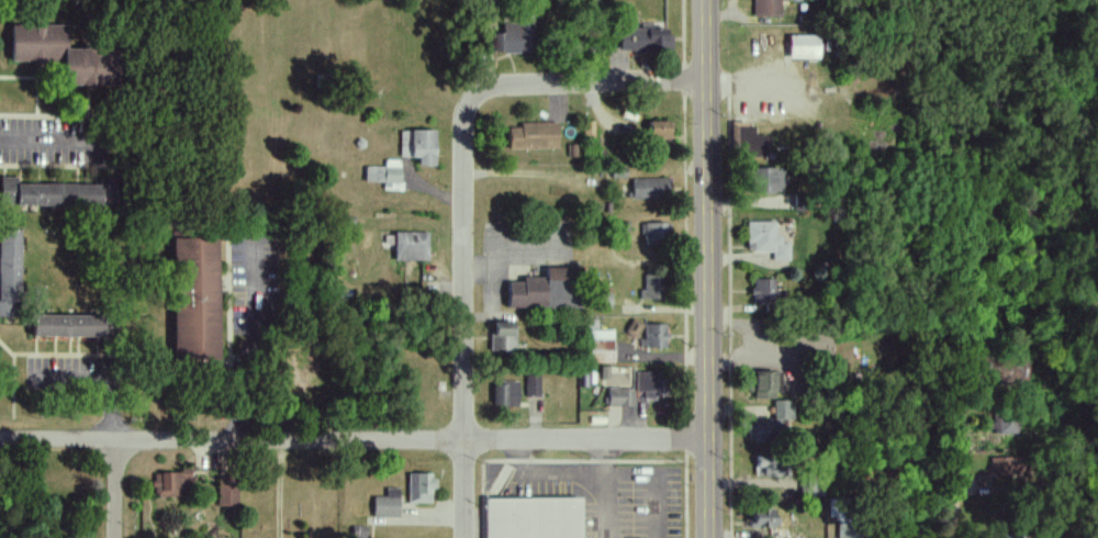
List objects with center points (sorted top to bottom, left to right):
building: (768, 8)
building: (514, 37)
building: (645, 38)
building: (804, 46)
building: (58, 54)
road: (587, 83)
road: (763, 88)
building: (659, 131)
building: (531, 136)
road: (51, 141)
building: (749, 142)
building: (418, 146)
road: (520, 173)
building: (385, 175)
building: (765, 180)
building: (648, 188)
building: (7, 190)
building: (58, 195)
building: (654, 234)
building: (766, 240)
building: (411, 246)
road: (708, 268)
building: (8, 269)
building: (651, 287)
building: (763, 290)
building: (194, 299)
road: (463, 317)
building: (67, 326)
building: (653, 336)
building: (503, 337)
road: (253, 343)
building: (598, 346)
road: (101, 380)
building: (531, 384)
building: (650, 384)
building: (766, 385)
building: (505, 393)
building: (619, 396)
building: (783, 410)
building: (1005, 423)
building: (758, 433)
road: (354, 441)
road: (956, 458)
building: (770, 464)
building: (1005, 467)
building: (170, 483)
building: (419, 487)
road: (607, 489)
road: (117, 491)
building: (227, 492)
park: (292, 493)
building: (386, 504)
building: (534, 517)
building: (764, 518)
building: (845, 530)
building: (358, 531)

